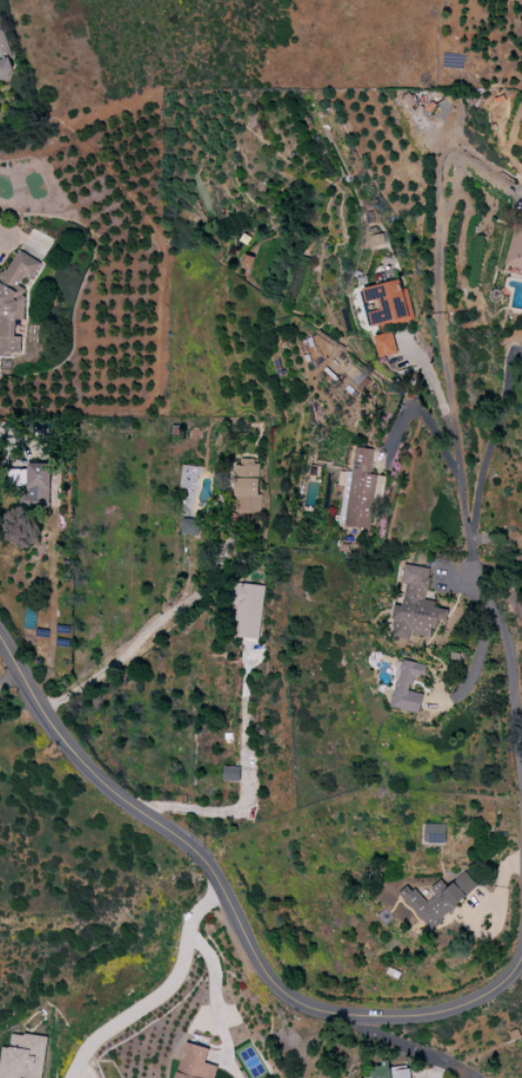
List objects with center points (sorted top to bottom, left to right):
building: (4, 58)
road: (436, 193)
road: (9, 231)
building: (514, 247)
building: (13, 298)
building: (384, 344)
road: (428, 377)
road: (447, 390)
road: (491, 440)
building: (33, 483)
building: (246, 487)
building: (359, 491)
building: (189, 526)
road: (499, 570)
road: (52, 584)
road: (480, 587)
building: (415, 605)
building: (248, 610)
road: (124, 647)
building: (405, 686)
road: (94, 767)
building: (231, 773)
road: (247, 779)
building: (434, 832)
building: (438, 898)
road: (160, 987)
road: (215, 993)
road: (339, 1013)
road: (414, 1049)
building: (22, 1056)
building: (196, 1063)
road: (81, 1071)
building: (388, 1071)
building: (360, 1076)

